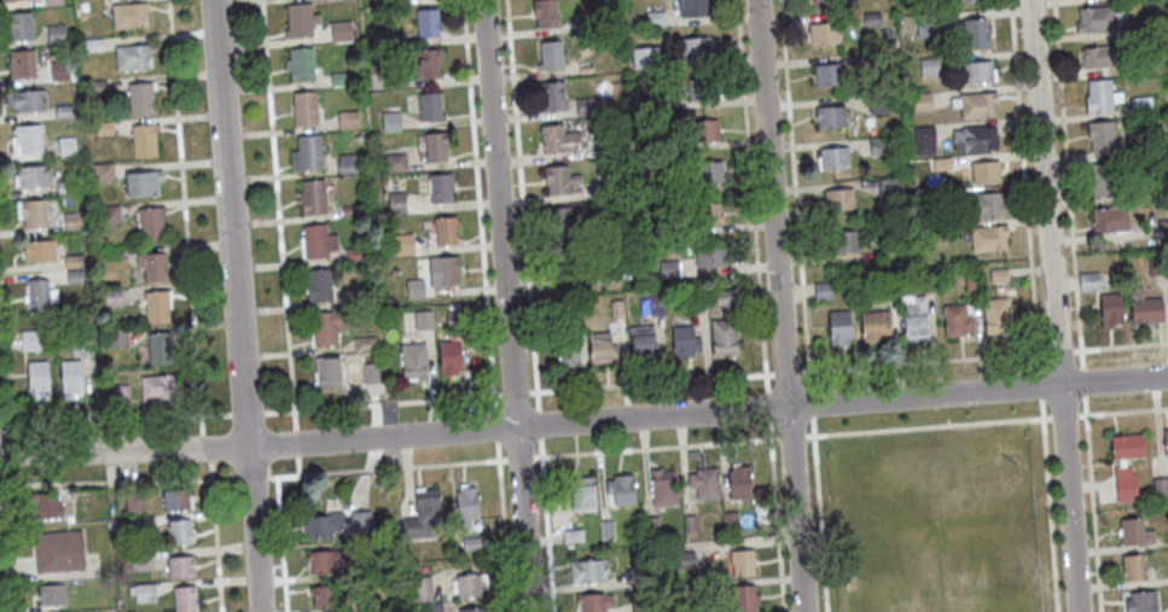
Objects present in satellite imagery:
building: (330, 0)
building: (413, 0)
building: (17, 1)
building: (1121, 1)
building: (830, 2)
building: (960, 2)
building: (53, 4)
building: (391, 4)
building: (693, 10)
building: (545, 16)
building: (129, 18)
building: (655, 21)
building: (871, 22)
building: (1094, 23)
building: (300, 24)
building: (586, 25)
building: (426, 27)
building: (926, 28)
building: (19, 29)
building: (1141, 33)
building: (339, 34)
building: (56, 37)
building: (824, 37)
building: (975, 37)
building: (395, 43)
building: (94, 47)
building: (695, 52)
building: (551, 59)
building: (132, 60)
building: (645, 60)
building: (1099, 60)
building: (861, 63)
building: (21, 68)
building: (426, 68)
building: (300, 69)
building: (930, 70)
building: (60, 76)
building: (977, 76)
building: (829, 78)
building: (339, 81)
building: (396, 83)
building: (97, 89)
building: (702, 93)
building: (552, 99)
building: (1100, 100)
building: (139, 103)
building: (658, 103)
building: (29, 104)
building: (922, 105)
building: (877, 107)
building: (974, 107)
building: (1140, 109)
building: (585, 110)
building: (430, 111)
building: (304, 112)
building: (64, 113)
building: (830, 121)
building: (347, 123)
building: (391, 124)
building: (103, 130)
building: (703, 135)
building: (1100, 139)
building: (28, 141)
building: (557, 142)
building: (971, 142)
building: (144, 144)
building: (923, 144)
building: (66, 148)
building: (435, 150)
building: (617, 150)
building: (879, 150)
building: (1135, 155)
building: (307, 157)
building: (833, 163)
building: (394, 165)
building: (347, 167)
building: (942, 167)
building: (103, 174)
road: (1067, 174)
building: (708, 176)
building: (984, 176)
building: (33, 180)
building: (558, 182)
building: (1103, 182)
building: (666, 183)
road: (1024, 183)
building: (143, 186)
building: (614, 187)
building: (64, 188)
building: (888, 190)
building: (440, 192)
road: (794, 192)
road: (751, 193)
building: (1140, 196)
building: (313, 200)
building: (396, 200)
road: (522, 203)
road: (478, 204)
building: (838, 204)
building: (986, 208)
road: (277, 214)
building: (350, 214)
road: (185, 216)
building: (34, 217)
building: (109, 217)
building: (707, 217)
building: (72, 223)
building: (1110, 223)
building: (562, 225)
building: (150, 227)
building: (662, 228)
building: (1163, 231)
building: (605, 232)
building: (446, 235)
building: (988, 241)
building: (318, 245)
building: (842, 245)
building: (402, 252)
building: (39, 255)
building: (356, 257)
building: (101, 258)
building: (709, 260)
building: (72, 263)
building: (564, 267)
building: (152, 269)
building: (668, 270)
building: (443, 274)
building: (998, 278)
building: (74, 279)
building: (971, 282)
building: (1089, 285)
building: (926, 286)
building: (318, 290)
building: (885, 290)
building: (420, 291)
building: (823, 293)
building: (39, 298)
building: (362, 299)
building: (698, 304)
road: (236, 305)
road: (505, 305)
road: (779, 305)
road: (1054, 305)
building: (656, 308)
building: (156, 310)
building: (616, 310)
building: (1110, 314)
building: (560, 315)
building: (1146, 315)
building: (913, 319)
building: (995, 319)
building: (422, 324)
building: (454, 324)
building: (955, 324)
building: (327, 330)
building: (724, 330)
building: (874, 330)
building: (838, 331)
building: (117, 342)
building: (29, 343)
building: (641, 344)
building: (80, 345)
building: (684, 345)
road: (1120, 345)
building: (364, 346)
road: (1058, 349)
building: (599, 350)
building: (158, 351)
building: (566, 352)
road: (1081, 357)
road: (922, 360)
building: (448, 362)
building: (413, 365)
road: (785, 369)
road: (5, 371)
building: (326, 375)
building: (368, 375)
building: (70, 380)
road: (650, 380)
road: (1083, 380)
building: (36, 381)
road: (1040, 384)
road: (513, 390)
building: (157, 391)
building: (120, 397)
road: (810, 401)
road: (380, 402)
road: (767, 404)
road: (1122, 409)
road: (245, 412)
road: (115, 415)
road: (1063, 415)
road: (626, 418)
road: (537, 422)
road: (494, 425)
road: (926, 425)
road: (769, 429)
road: (791, 435)
road: (295, 441)
road: (655, 445)
road: (205, 447)
building: (1164, 447)
road: (5, 448)
road: (42, 450)
building: (1126, 451)
road: (518, 455)
road: (297, 464)
road: (387, 466)
road: (251, 476)
road: (222, 478)
road: (105, 480)
building: (704, 486)
building: (738, 486)
building: (1125, 488)
building: (1160, 490)
building: (663, 491)
building: (621, 492)
building: (176, 500)
building: (582, 500)
road: (1092, 503)
building: (46, 505)
road: (1048, 506)
building: (465, 509)
road: (819, 513)
building: (422, 519)
building: (360, 524)
building: (730, 524)
road: (777, 524)
road: (546, 525)
road: (502, 526)
building: (690, 526)
building: (650, 528)
building: (322, 529)
building: (180, 531)
building: (605, 532)
road: (214, 536)
building: (1134, 536)
building: (573, 538)
road: (281, 543)
building: (471, 543)
building: (58, 552)
road: (4, 555)
building: (684, 563)
building: (324, 565)
building: (181, 566)
building: (384, 566)
building: (740, 567)
building: (1133, 572)
building: (585, 576)
building: (645, 577)
building: (470, 589)
building: (420, 591)
building: (684, 593)
building: (52, 594)
building: (185, 598)
building: (322, 600)
building: (744, 601)
building: (594, 604)
building: (1140, 604)
building: (365, 606)
building: (641, 607)
building: (472, 611)

